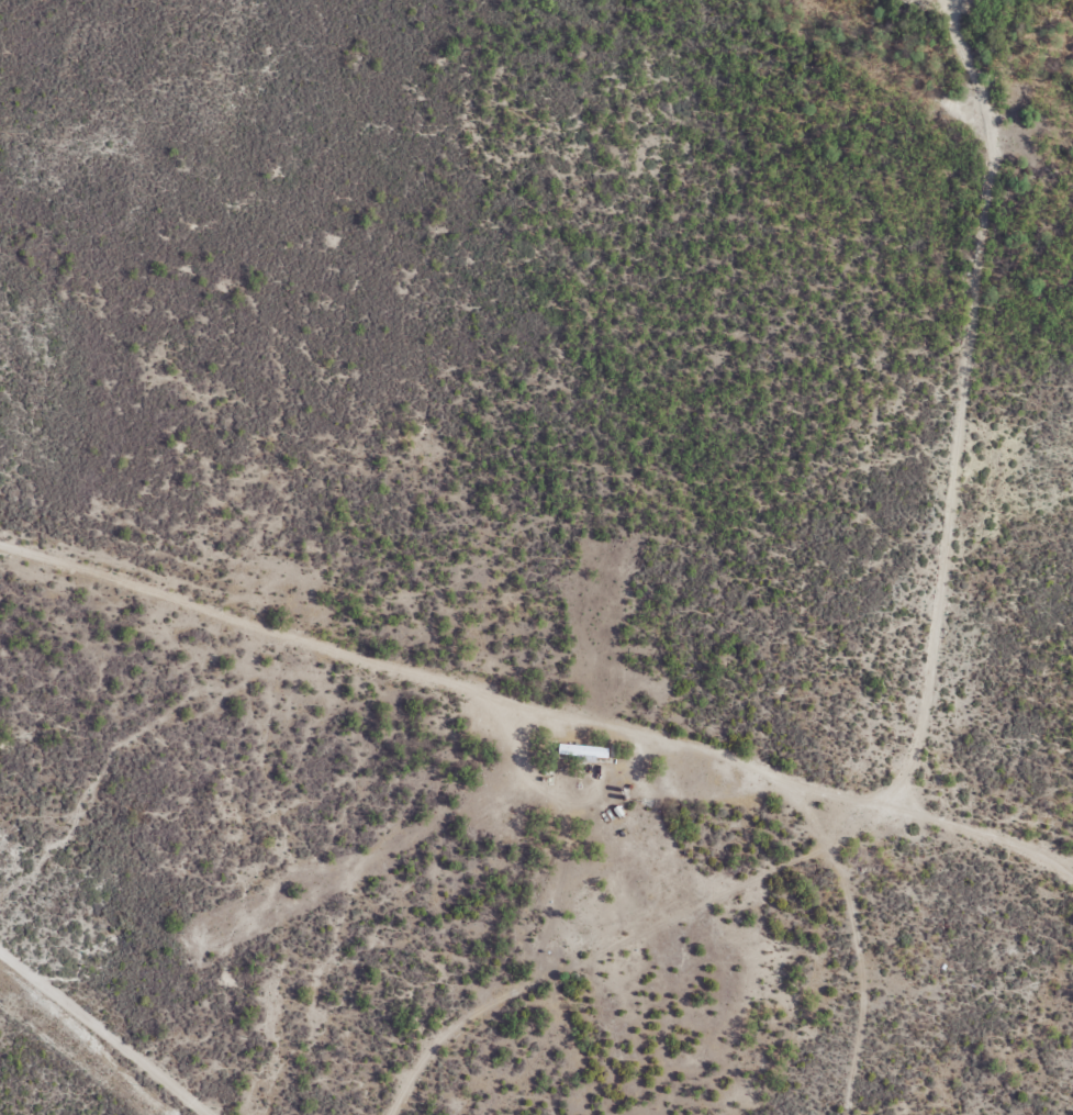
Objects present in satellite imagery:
road: (962, 0)
road: (865, 544)
road: (538, 704)
building: (585, 752)
building: (545, 792)

